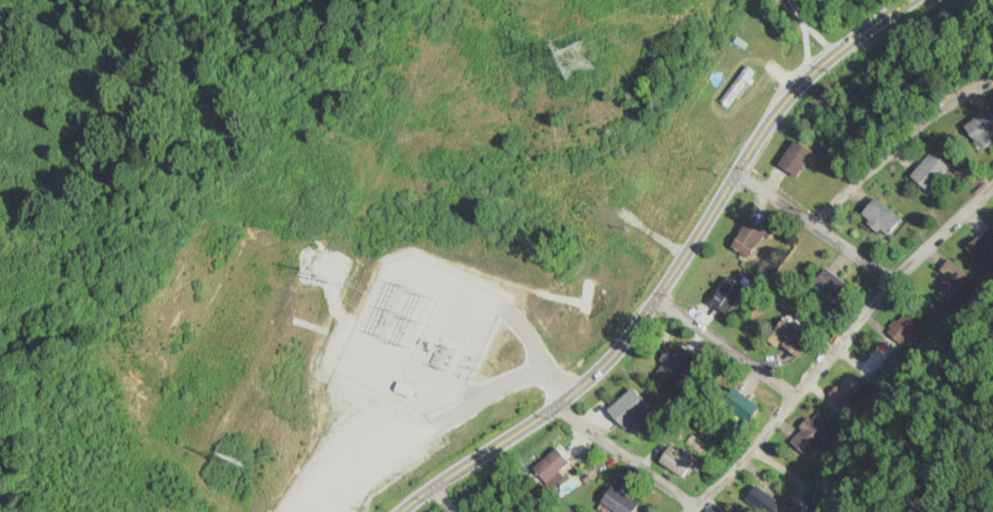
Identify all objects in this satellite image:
power tower: (569, 60)
building: (737, 87)
building: (981, 128)
road: (766, 130)
road: (893, 157)
building: (794, 158)
building: (930, 172)
building: (589, 203)
building: (880, 215)
road: (817, 224)
building: (748, 237)
building: (983, 245)
building: (957, 271)
building: (829, 284)
building: (727, 295)
building: (790, 338)
road: (837, 346)
road: (728, 347)
building: (891, 352)
building: (674, 365)
building: (850, 395)
road: (557, 406)
building: (739, 406)
building: (628, 408)
building: (813, 433)
road: (627, 456)
power tower: (221, 460)
building: (676, 461)
building: (553, 467)
road: (420, 500)
road: (449, 500)
building: (619, 501)

